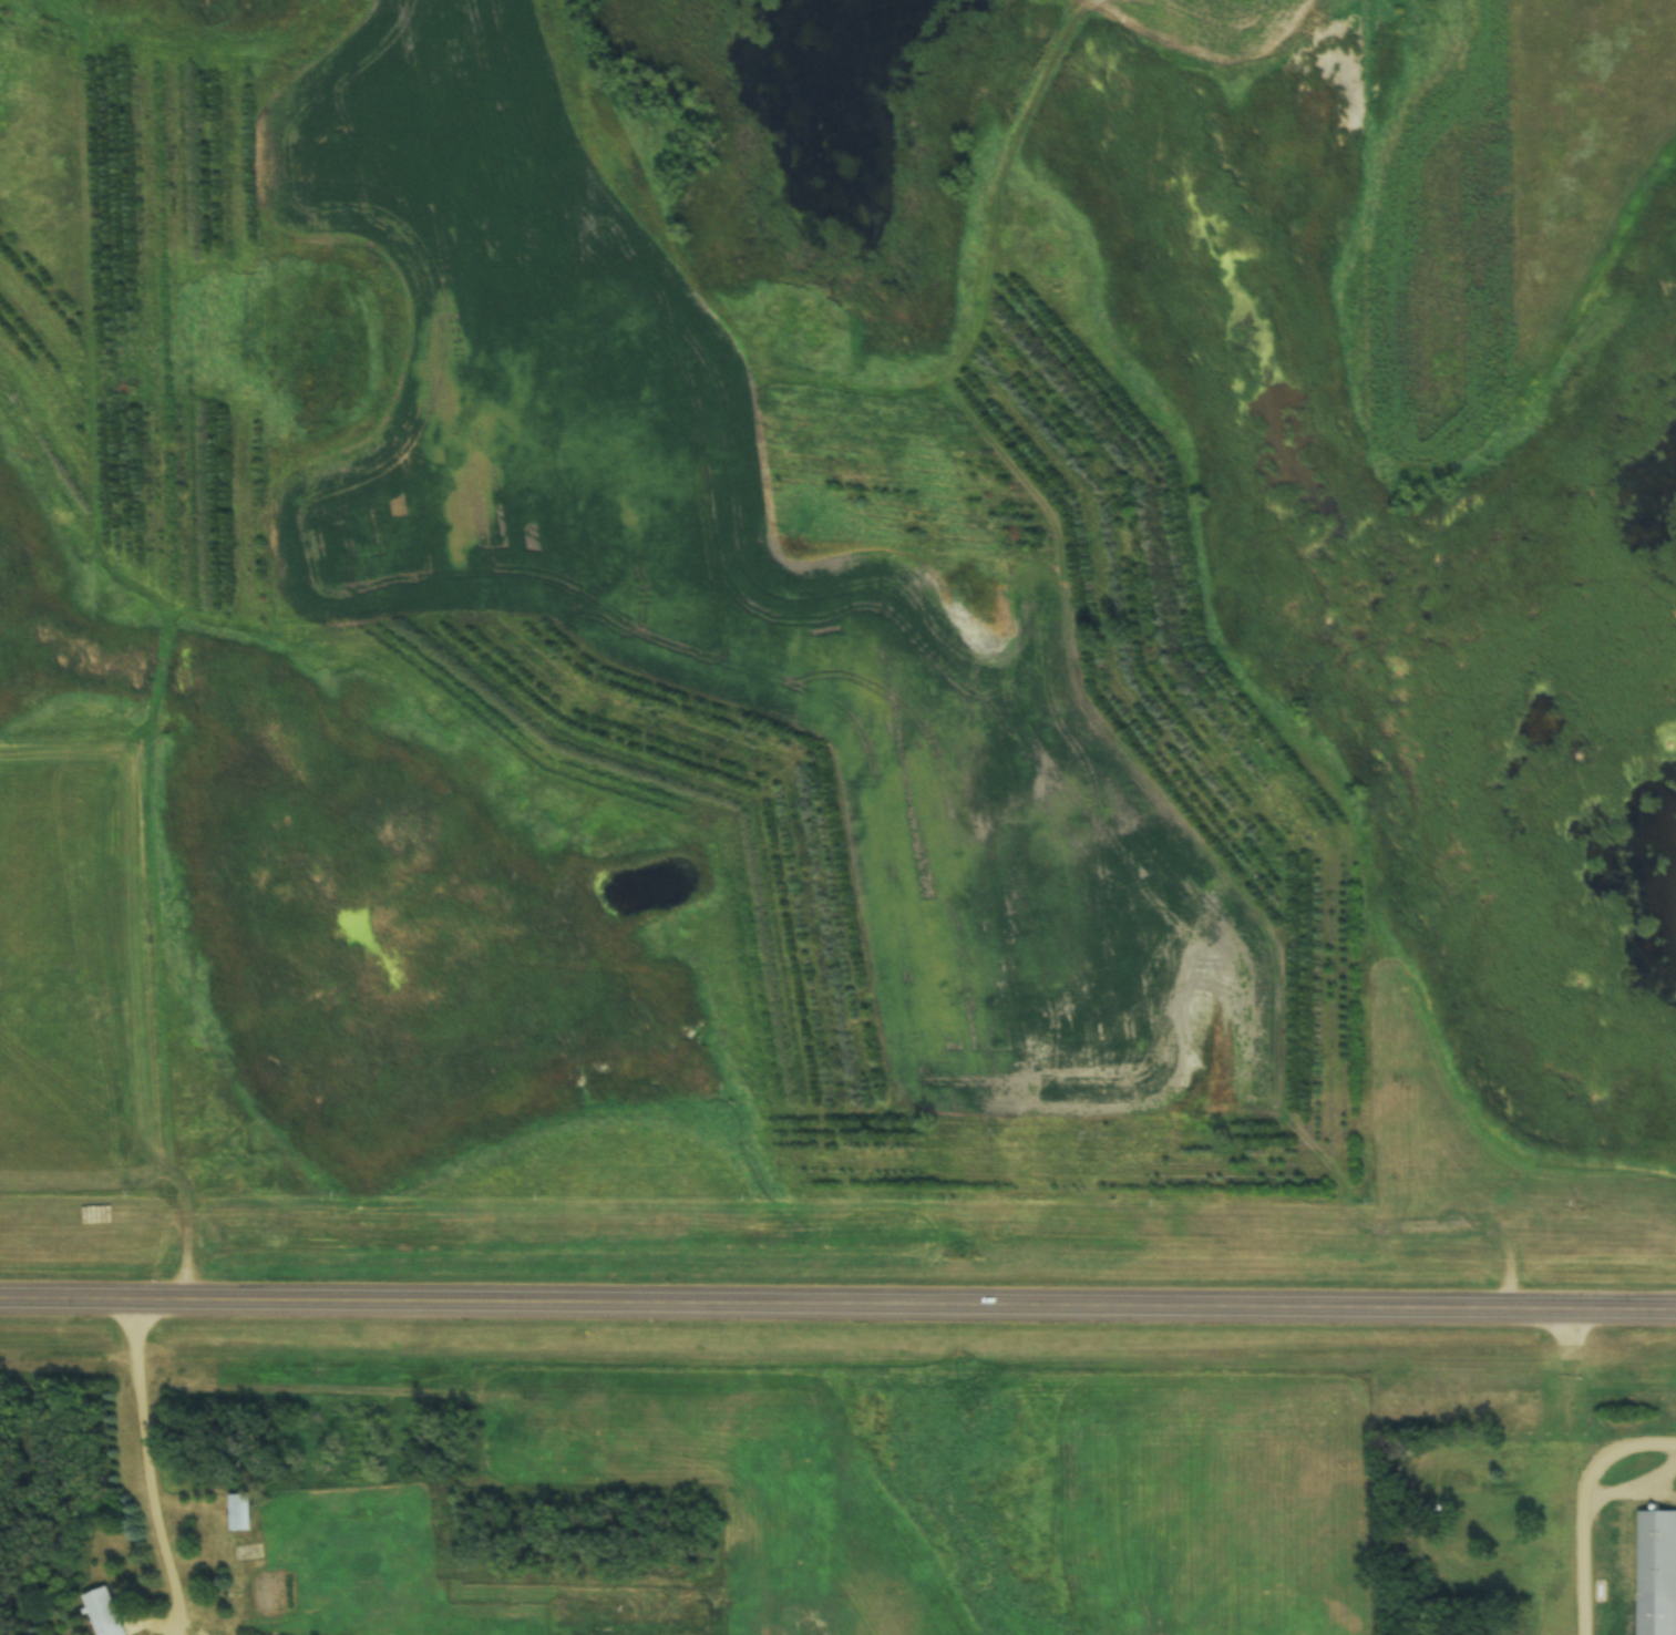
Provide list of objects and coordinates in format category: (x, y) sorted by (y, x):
road: (837, 1299)
road: (143, 1467)
building: (1452, 1481)
building: (240, 1513)
building: (1659, 1604)
building: (104, 1613)

